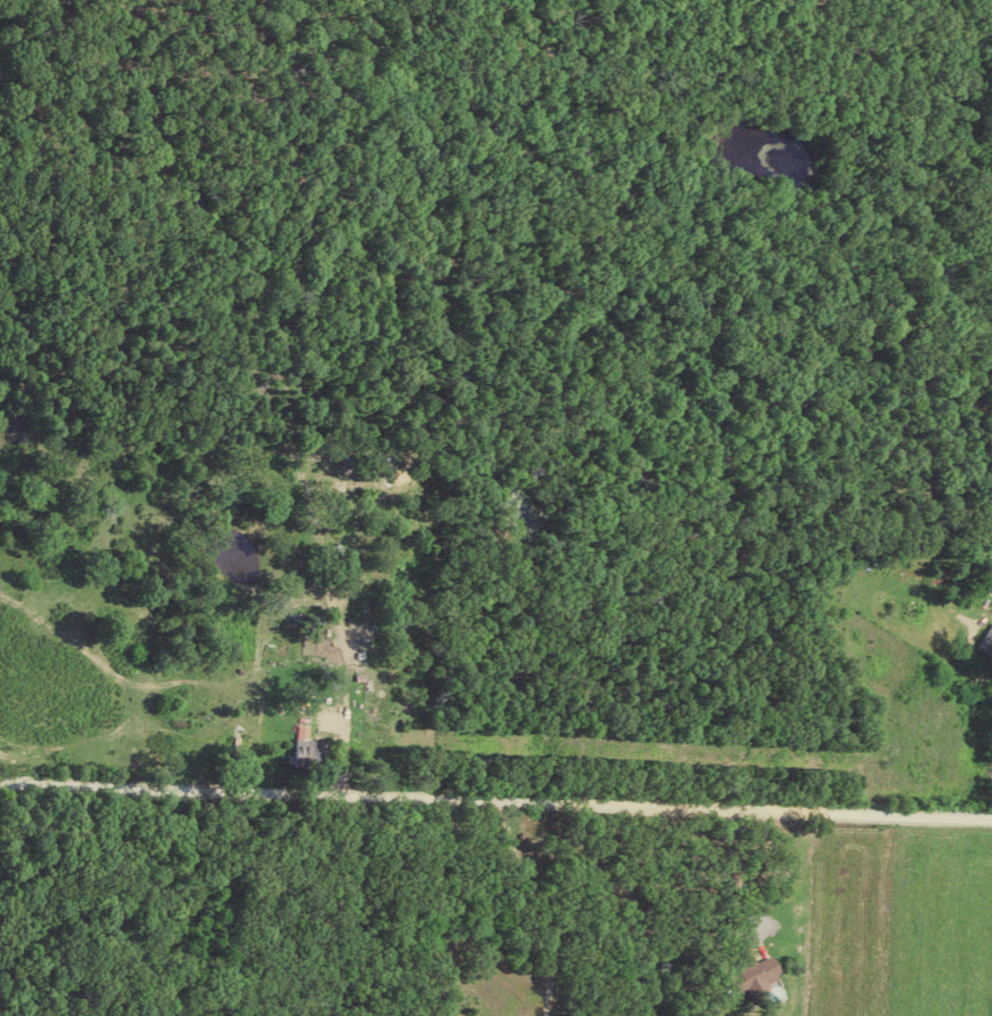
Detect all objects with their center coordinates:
building: (988, 643)
building: (304, 733)
road: (496, 802)
building: (755, 974)

